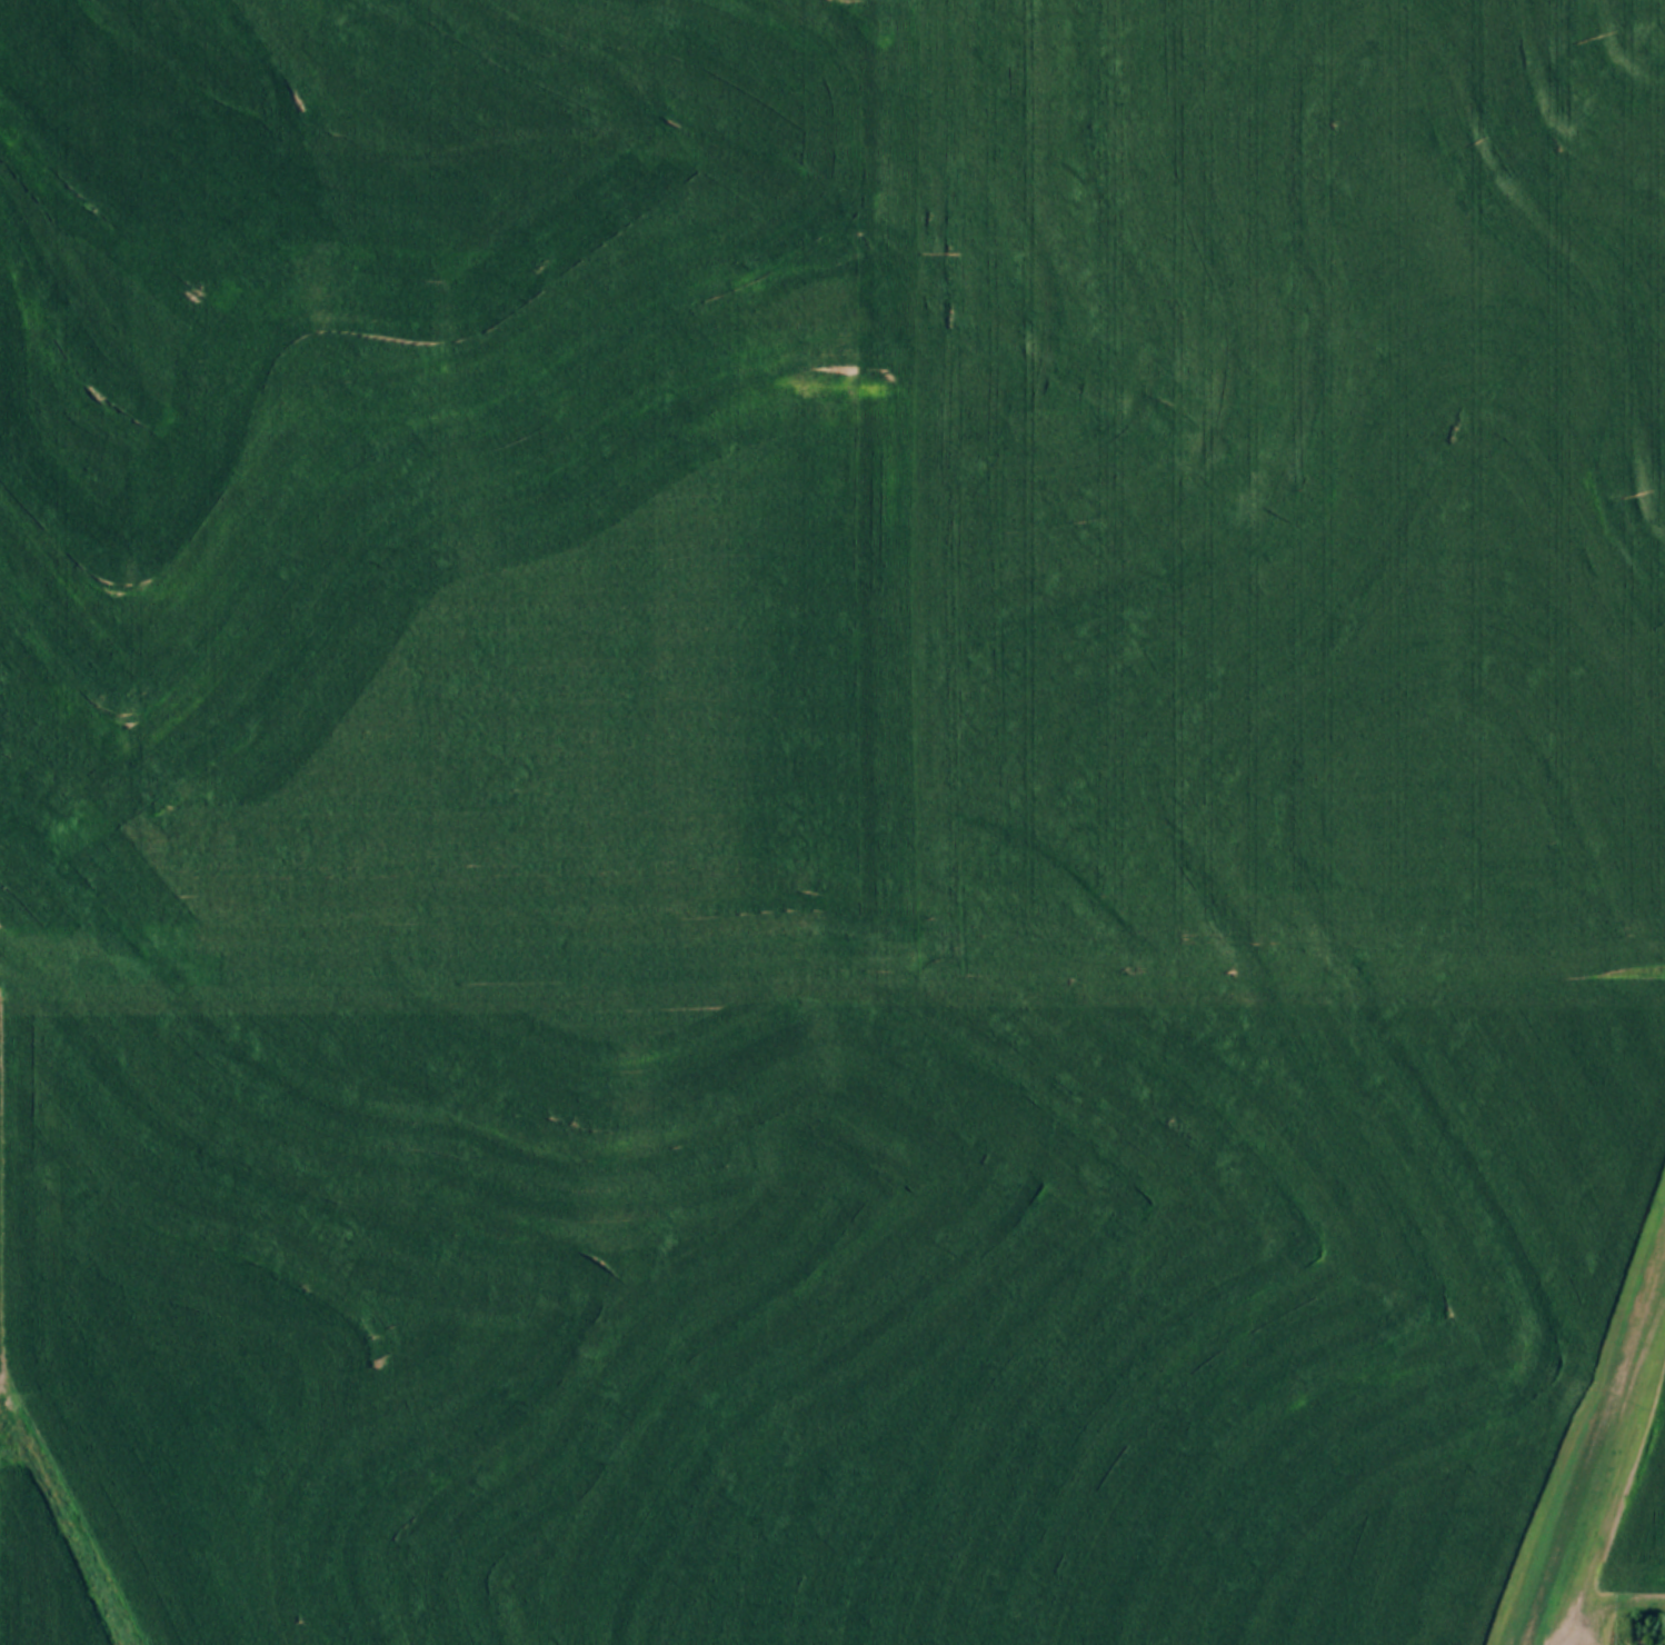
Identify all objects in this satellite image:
airport runway: (1564, 1562)

